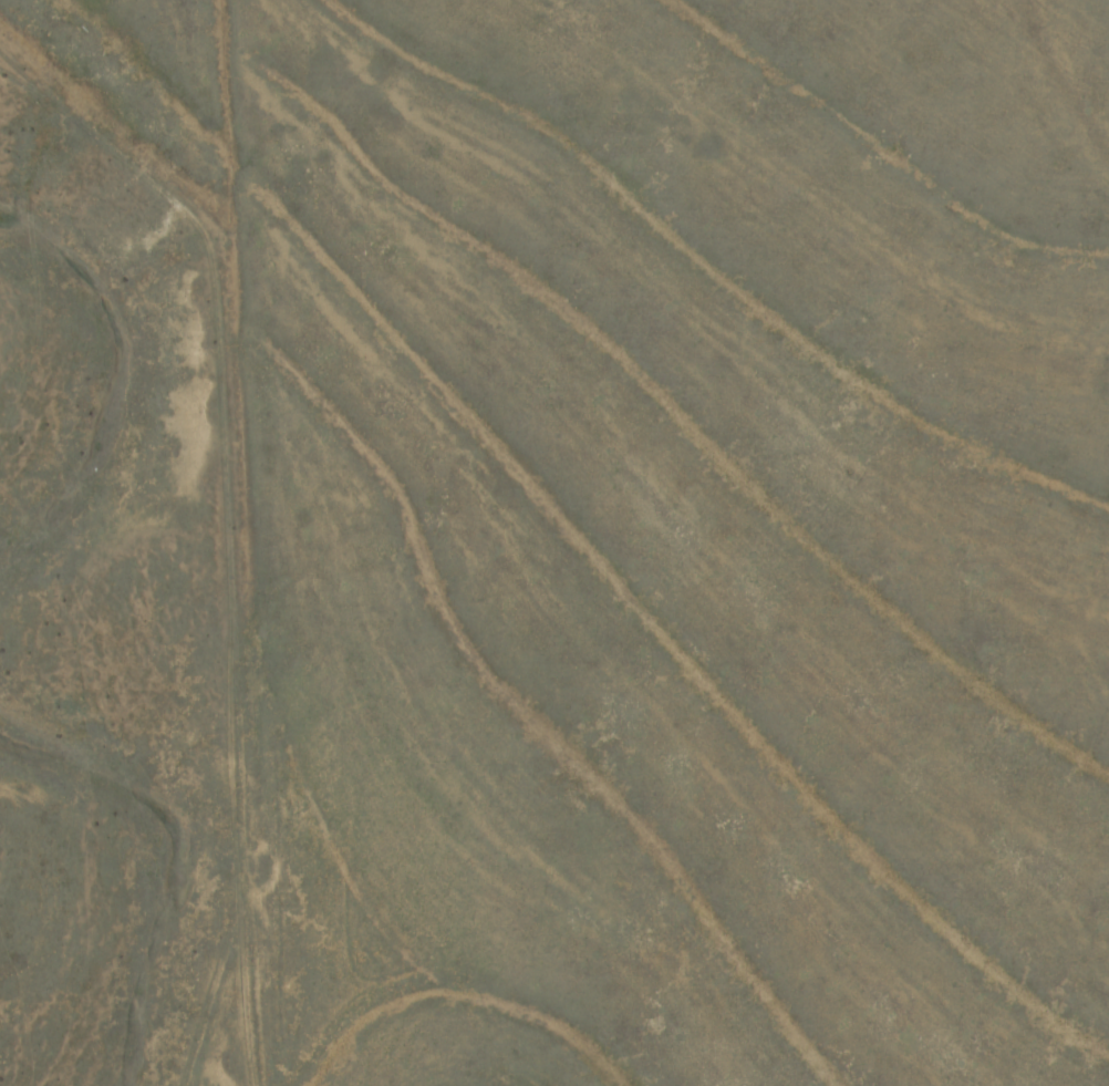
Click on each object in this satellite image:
road: (229, 542)

